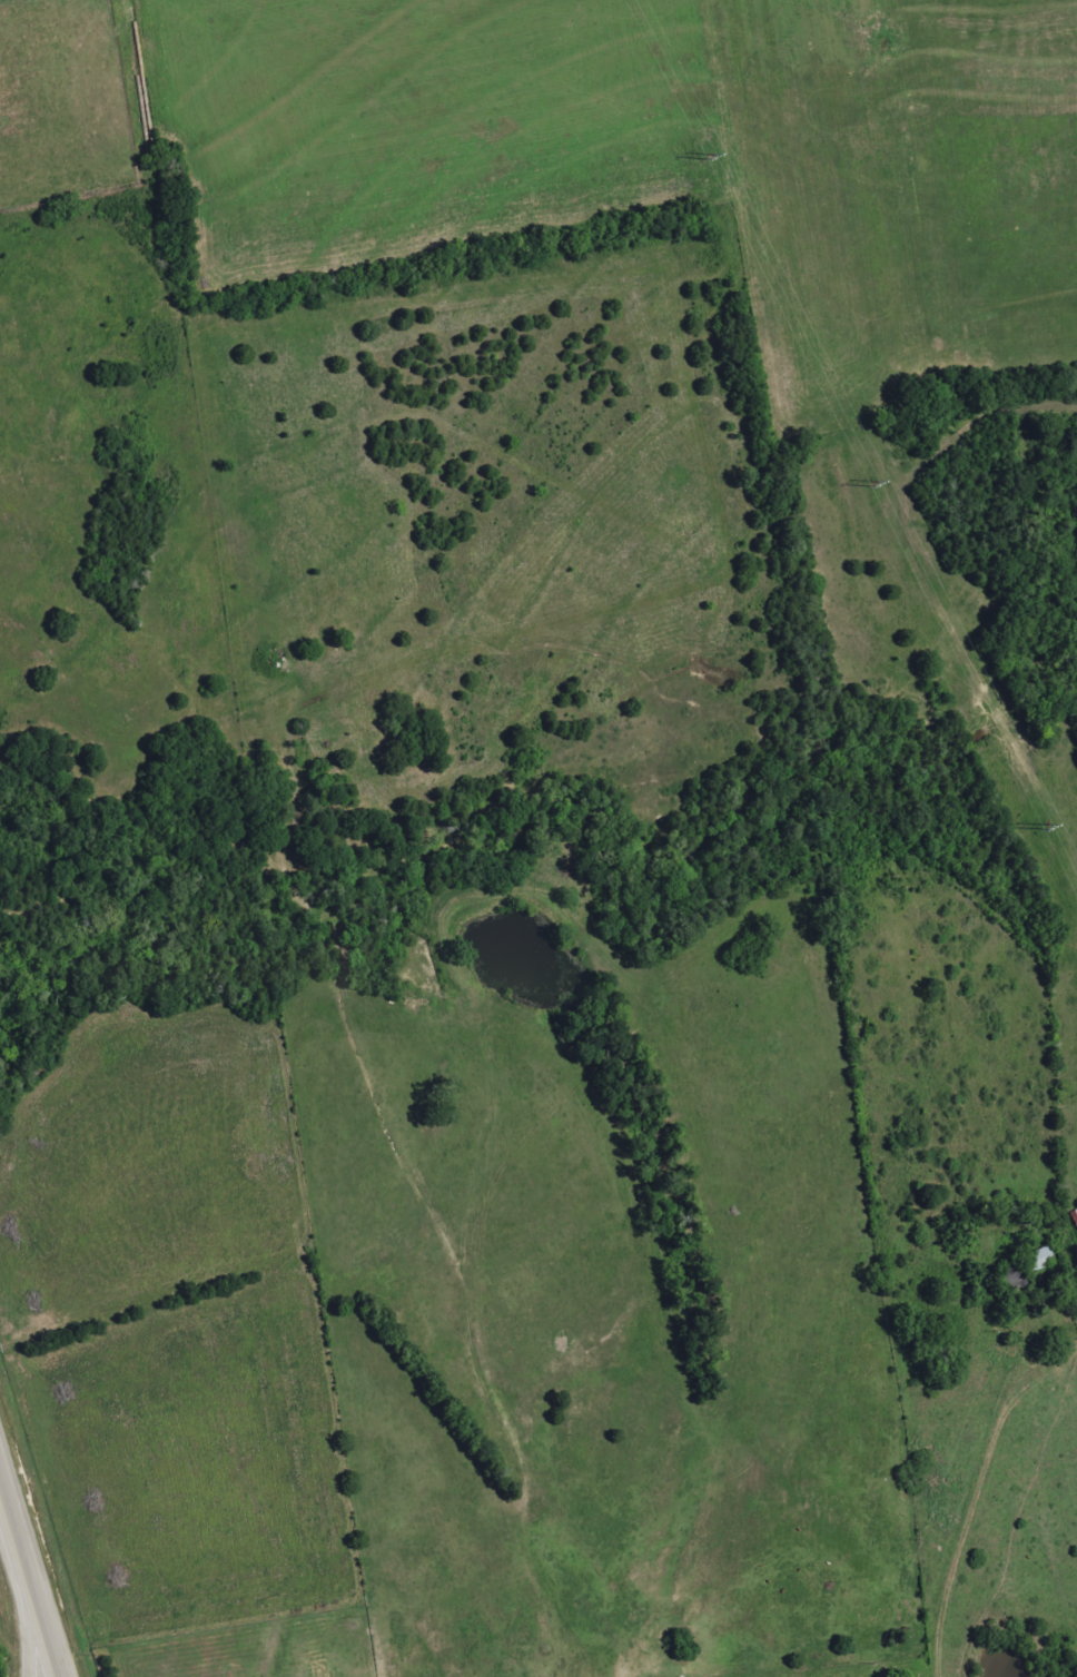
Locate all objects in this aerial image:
power tower: (708, 155)
power tower: (870, 483)
power tower: (1043, 826)
building: (1075, 1216)
building: (1041, 1260)
road: (970, 1493)
road: (29, 1582)
road: (36, 1650)

